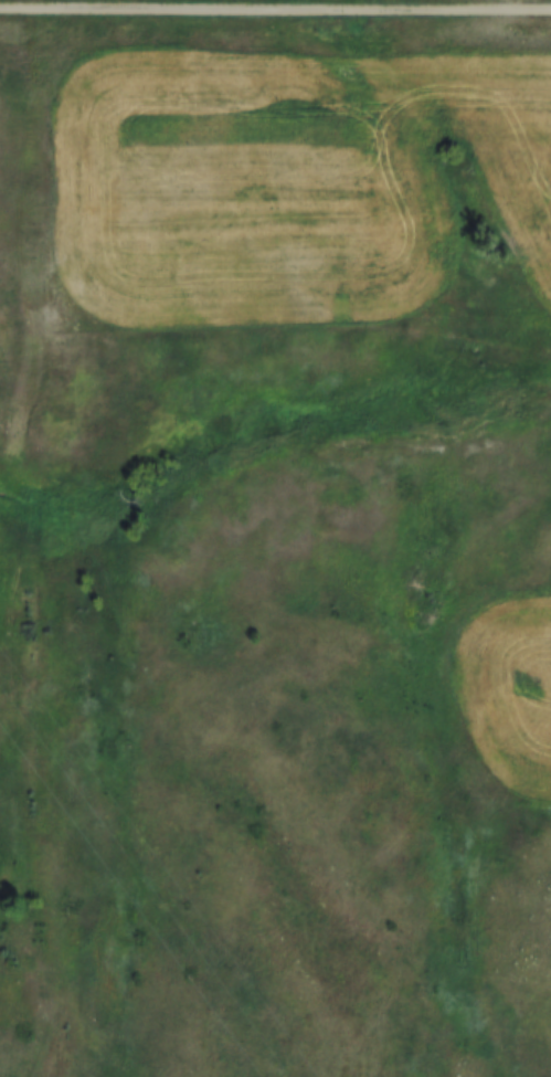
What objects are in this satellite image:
road: (275, 12)

